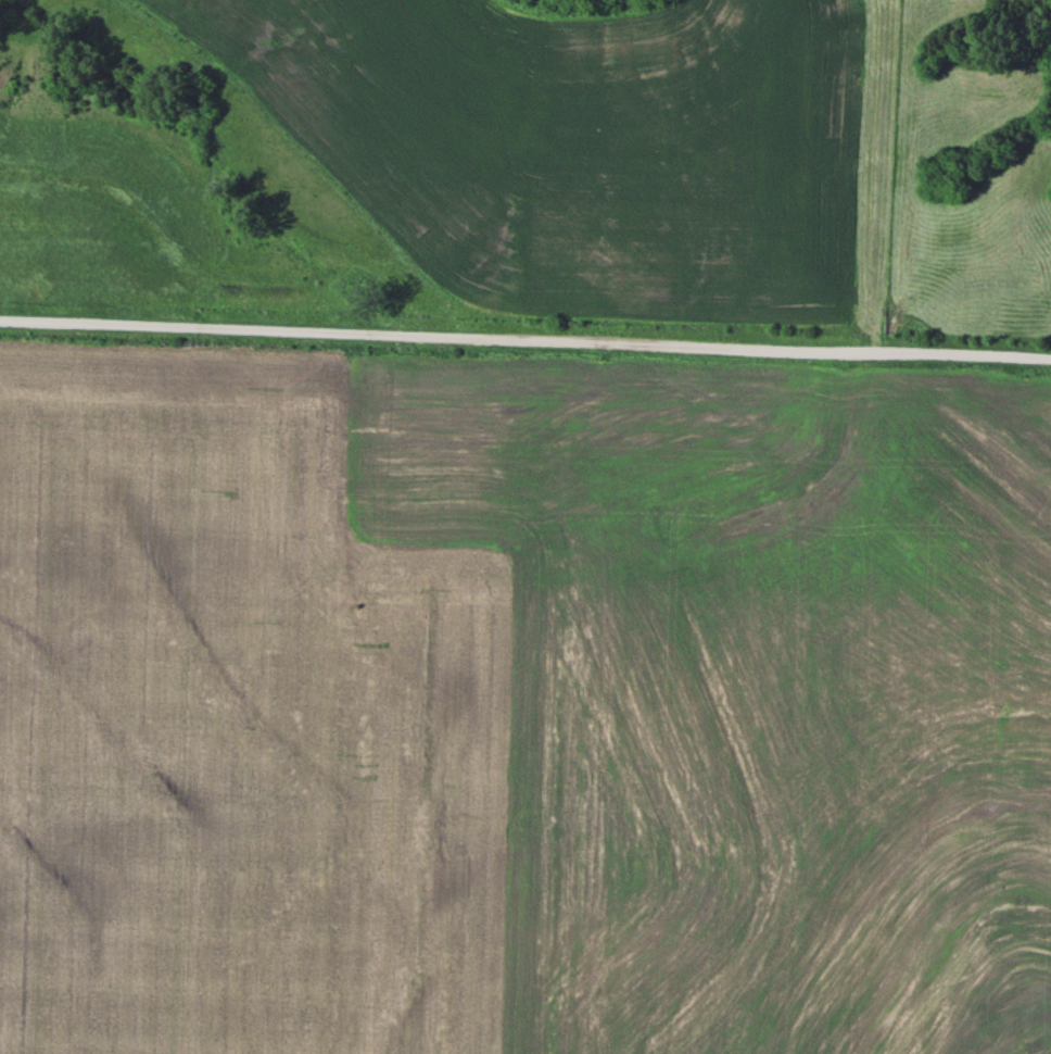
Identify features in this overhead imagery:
road: (525, 337)

